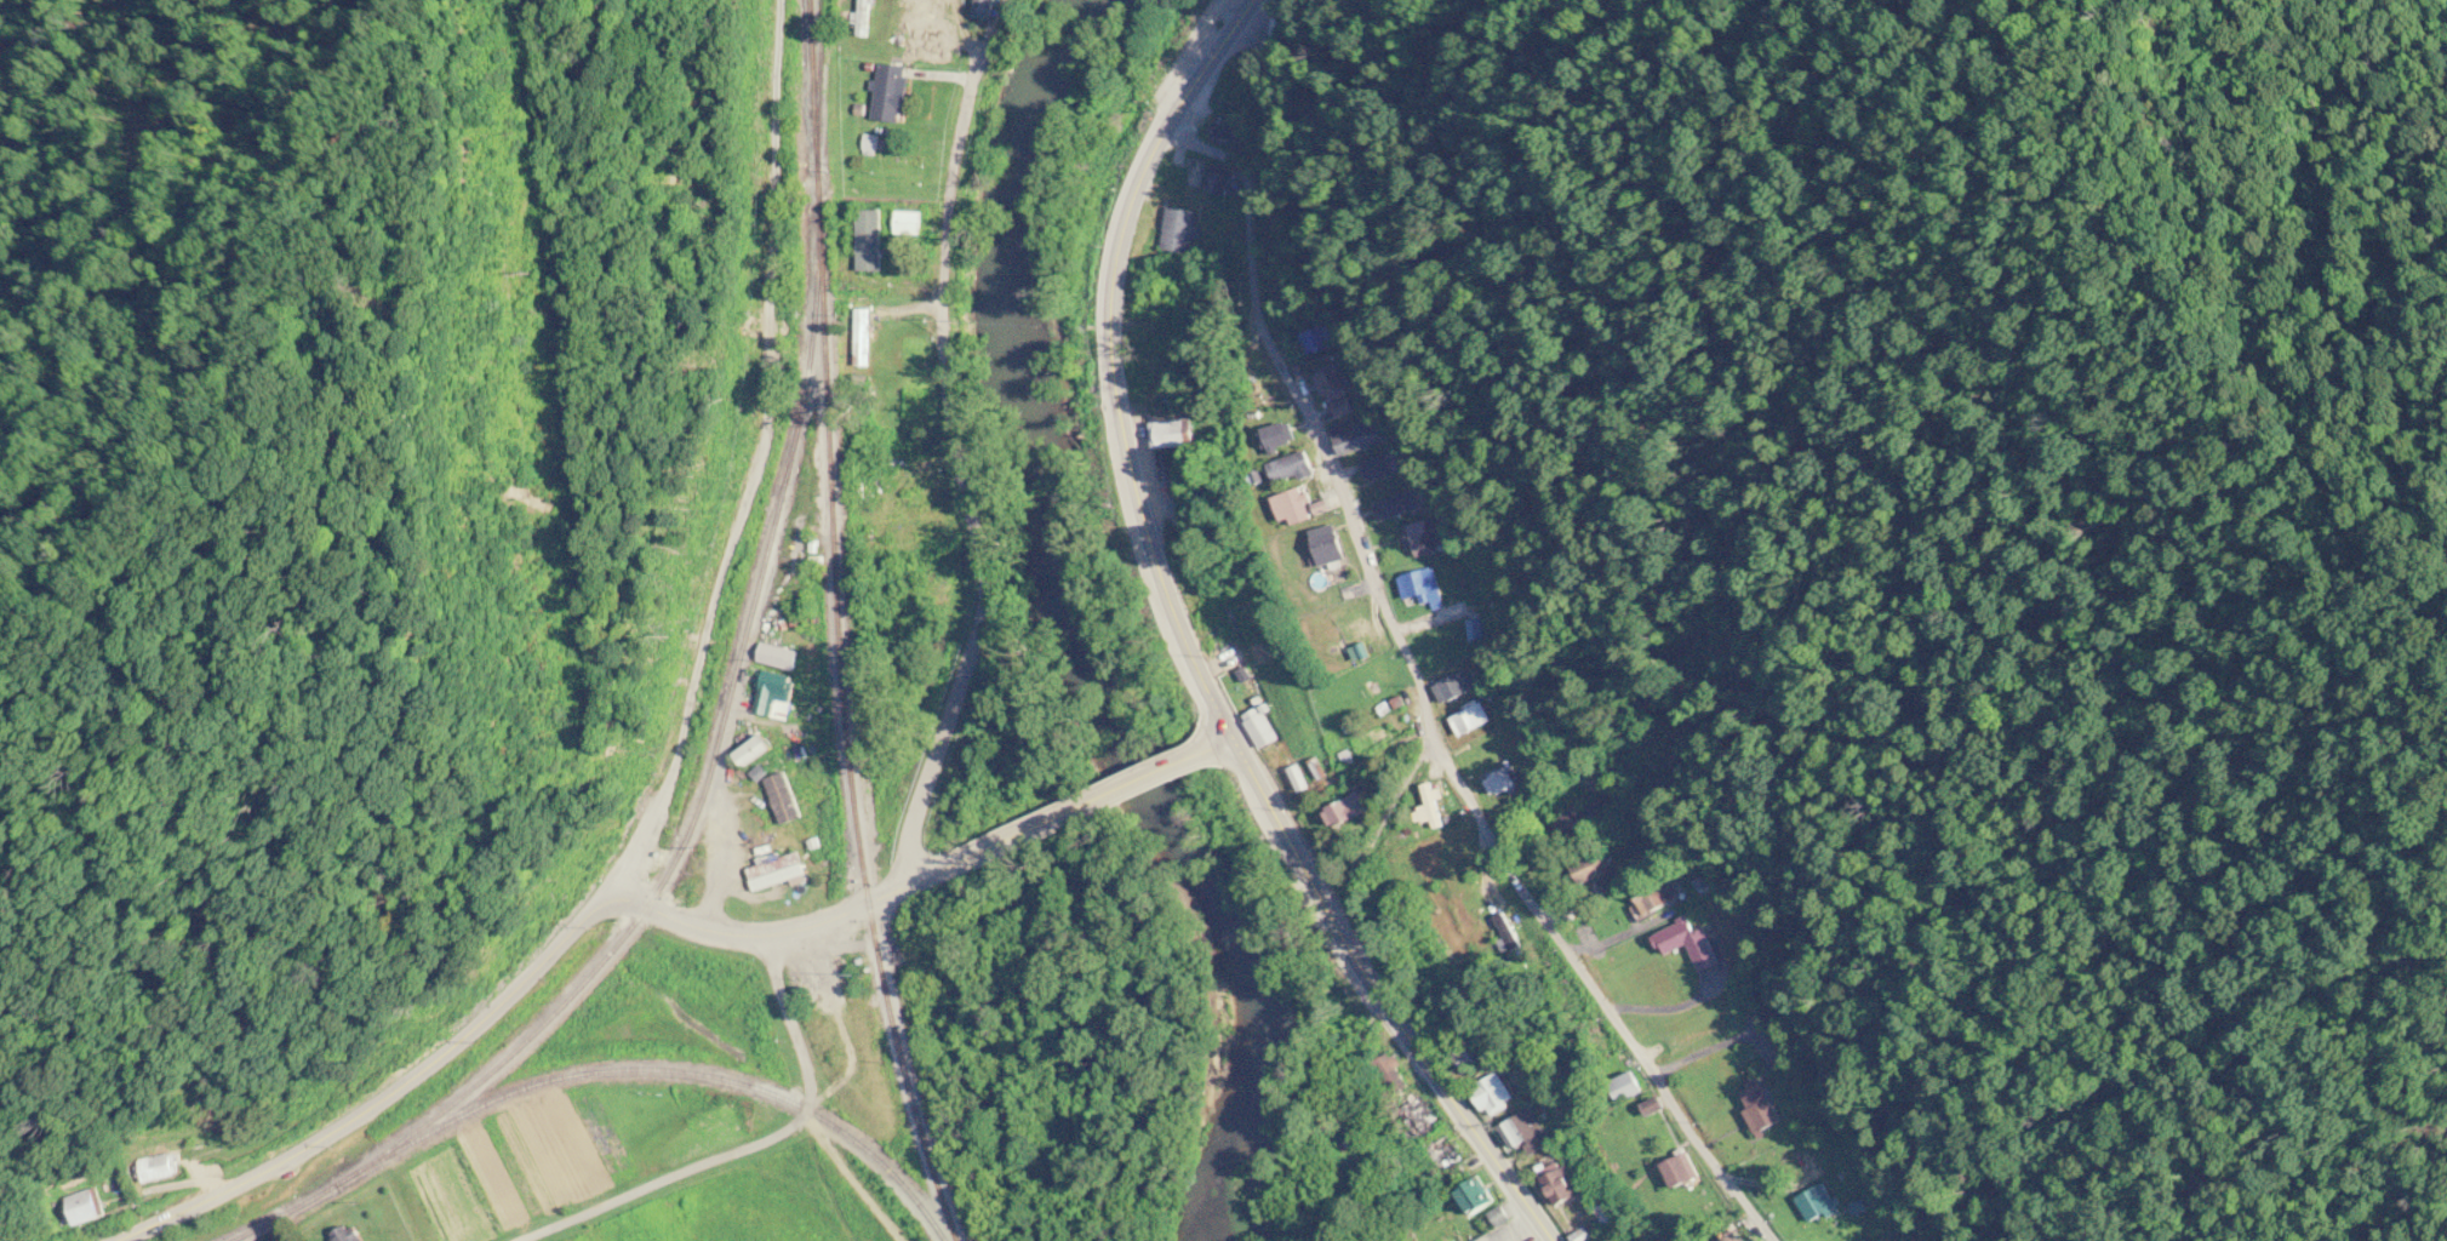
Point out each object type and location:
building: (864, 11)
road: (1208, 61)
building: (891, 93)
building: (1225, 132)
railway: (801, 135)
building: (1217, 181)
building: (1178, 230)
building: (867, 241)
power tower: (527, 278)
building: (862, 338)
building: (1315, 341)
building: (1160, 362)
building: (1328, 384)
building: (1340, 407)
road: (1307, 419)
building: (1170, 435)
building: (1277, 438)
building: (1359, 438)
road: (754, 451)
building: (1379, 468)
building: (1292, 469)
road: (962, 477)
building: (1394, 508)
building: (1294, 509)
power tower: (547, 525)
building: (886, 527)
building: (1420, 541)
building: (1330, 547)
building: (1422, 588)
river: (1091, 627)
building: (1222, 630)
building: (1357, 637)
building: (778, 658)
building: (1456, 688)
building: (771, 692)
road: (1217, 716)
building: (1470, 722)
building: (1258, 728)
road: (1219, 745)
building: (755, 754)
railway: (856, 760)
railway: (703, 777)
building: (1498, 785)
building: (1431, 807)
road: (1077, 810)
building: (1348, 810)
road: (1365, 847)
building: (772, 864)
building: (1597, 873)
building: (1659, 900)
building: (1505, 932)
road: (778, 933)
building: (1687, 944)
road: (1597, 995)
building: (1468, 1058)
railway: (676, 1070)
building: (1394, 1076)
building: (1625, 1088)
road: (389, 1092)
building: (1492, 1096)
building: (1760, 1110)
building: (1420, 1119)
building: (1523, 1134)
road: (750, 1144)
building: (1445, 1154)
building: (162, 1167)
building: (1682, 1171)
building: (1560, 1184)
building: (1474, 1199)
building: (1818, 1202)
railway: (288, 1205)
building: (87, 1206)
building: (1500, 1217)
building: (349, 1235)
building: (1731, 1237)
building: (282, 1239)

